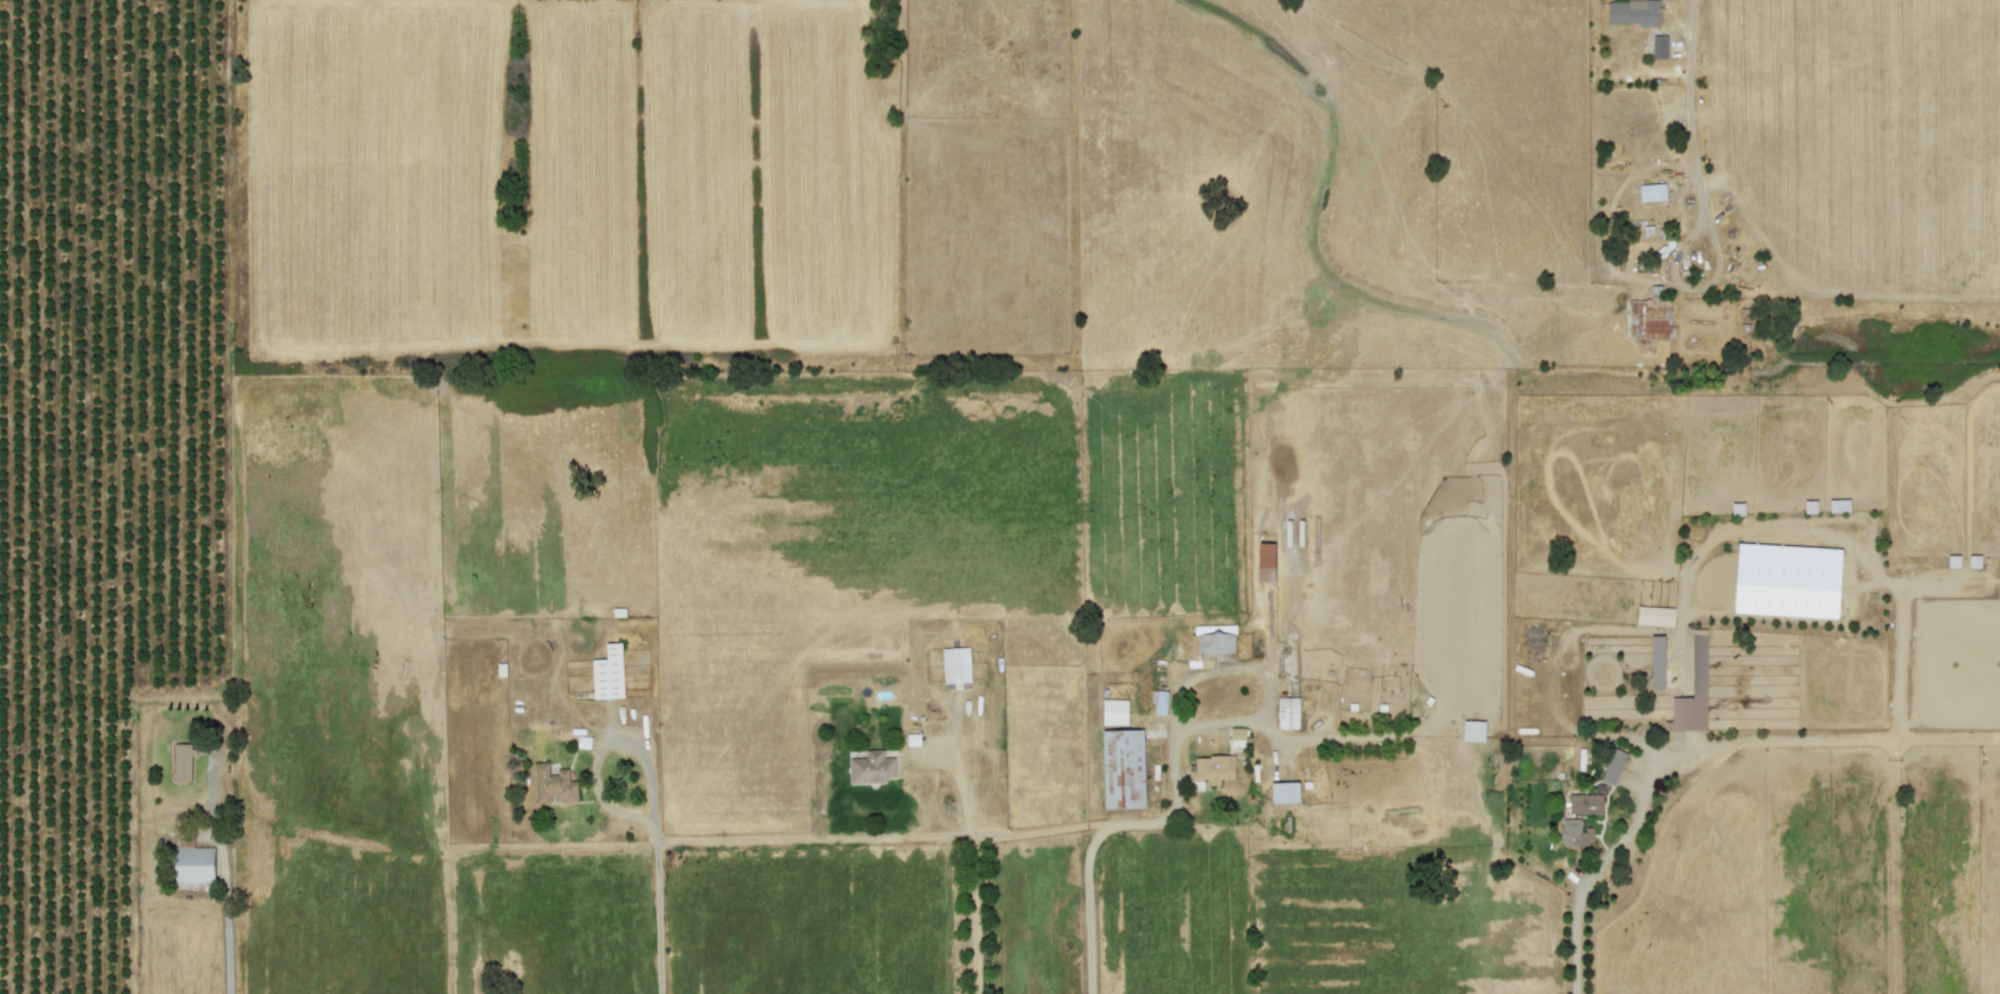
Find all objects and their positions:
building: (1633, 11)
building: (1659, 45)
road: (1689, 109)
building: (1652, 191)
building: (1649, 315)
crop: (1000, 497)
building: (1839, 505)
building: (1265, 561)
building: (1655, 615)
building: (1213, 642)
building: (1656, 661)
building: (956, 664)
building: (608, 673)
building: (1692, 693)
building: (1159, 701)
building: (1114, 711)
building: (1288, 712)
building: (1473, 730)
building: (1237, 736)
road: (603, 742)
building: (182, 761)
building: (1613, 766)
building: (871, 767)
building: (1122, 768)
building: (1211, 768)
building: (553, 784)
building: (1285, 791)
building: (1585, 803)
building: (1574, 832)
road: (1610, 856)
building: (193, 863)
road: (972, 871)
road: (223, 872)
road: (1089, 889)
road: (656, 909)

